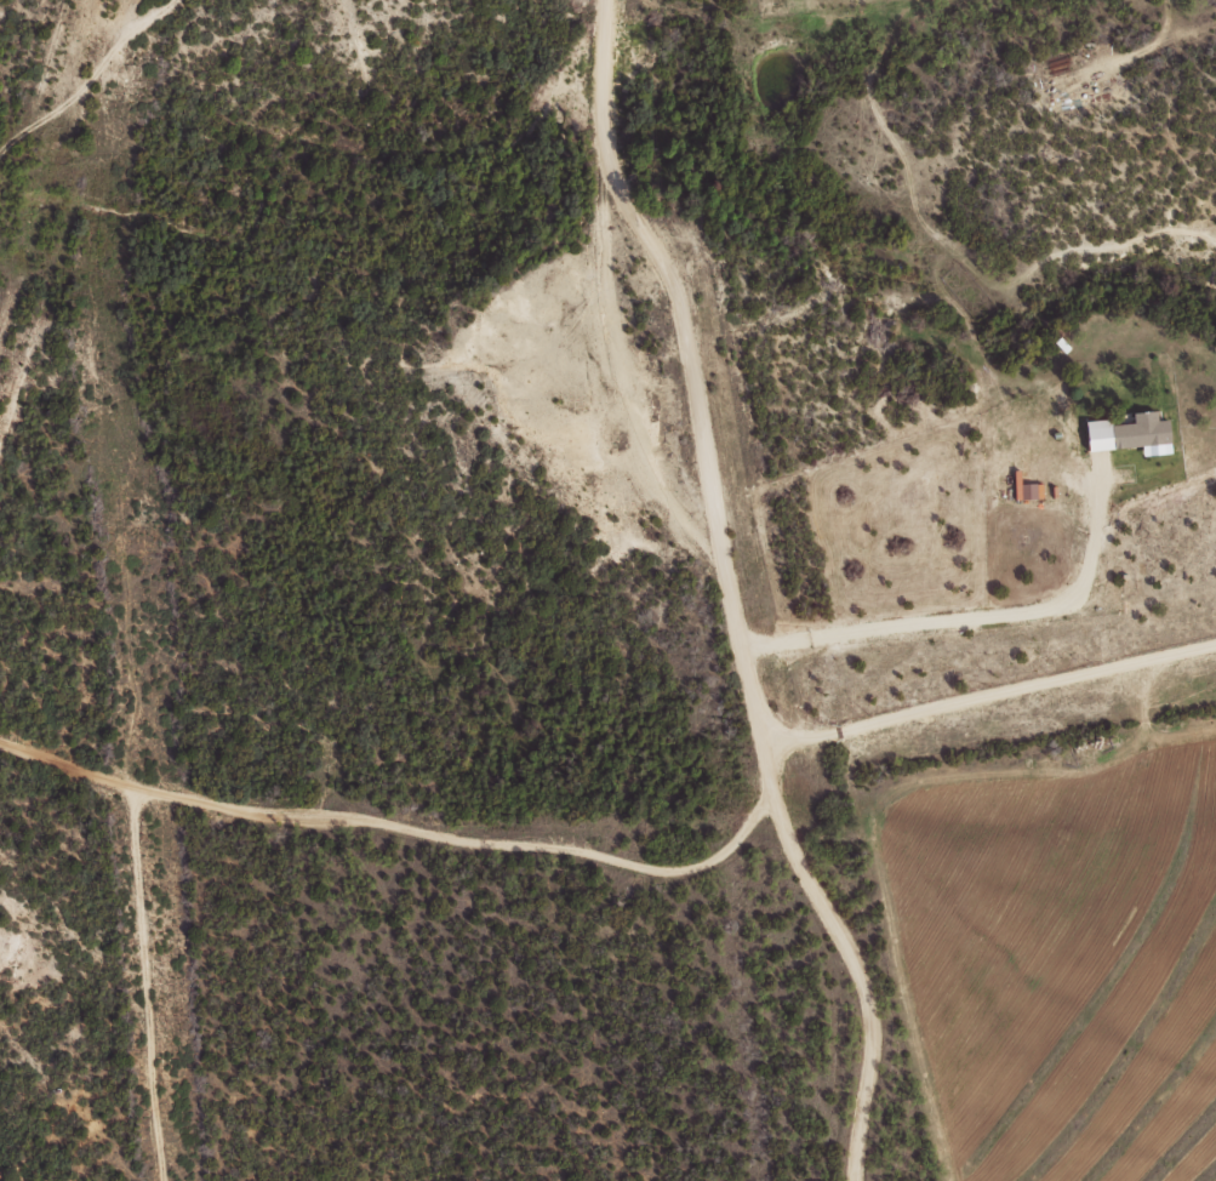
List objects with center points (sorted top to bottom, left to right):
building: (1123, 432)
building: (1023, 489)
road: (737, 589)
road: (978, 618)
road: (994, 695)
road: (478, 869)
road: (136, 929)

